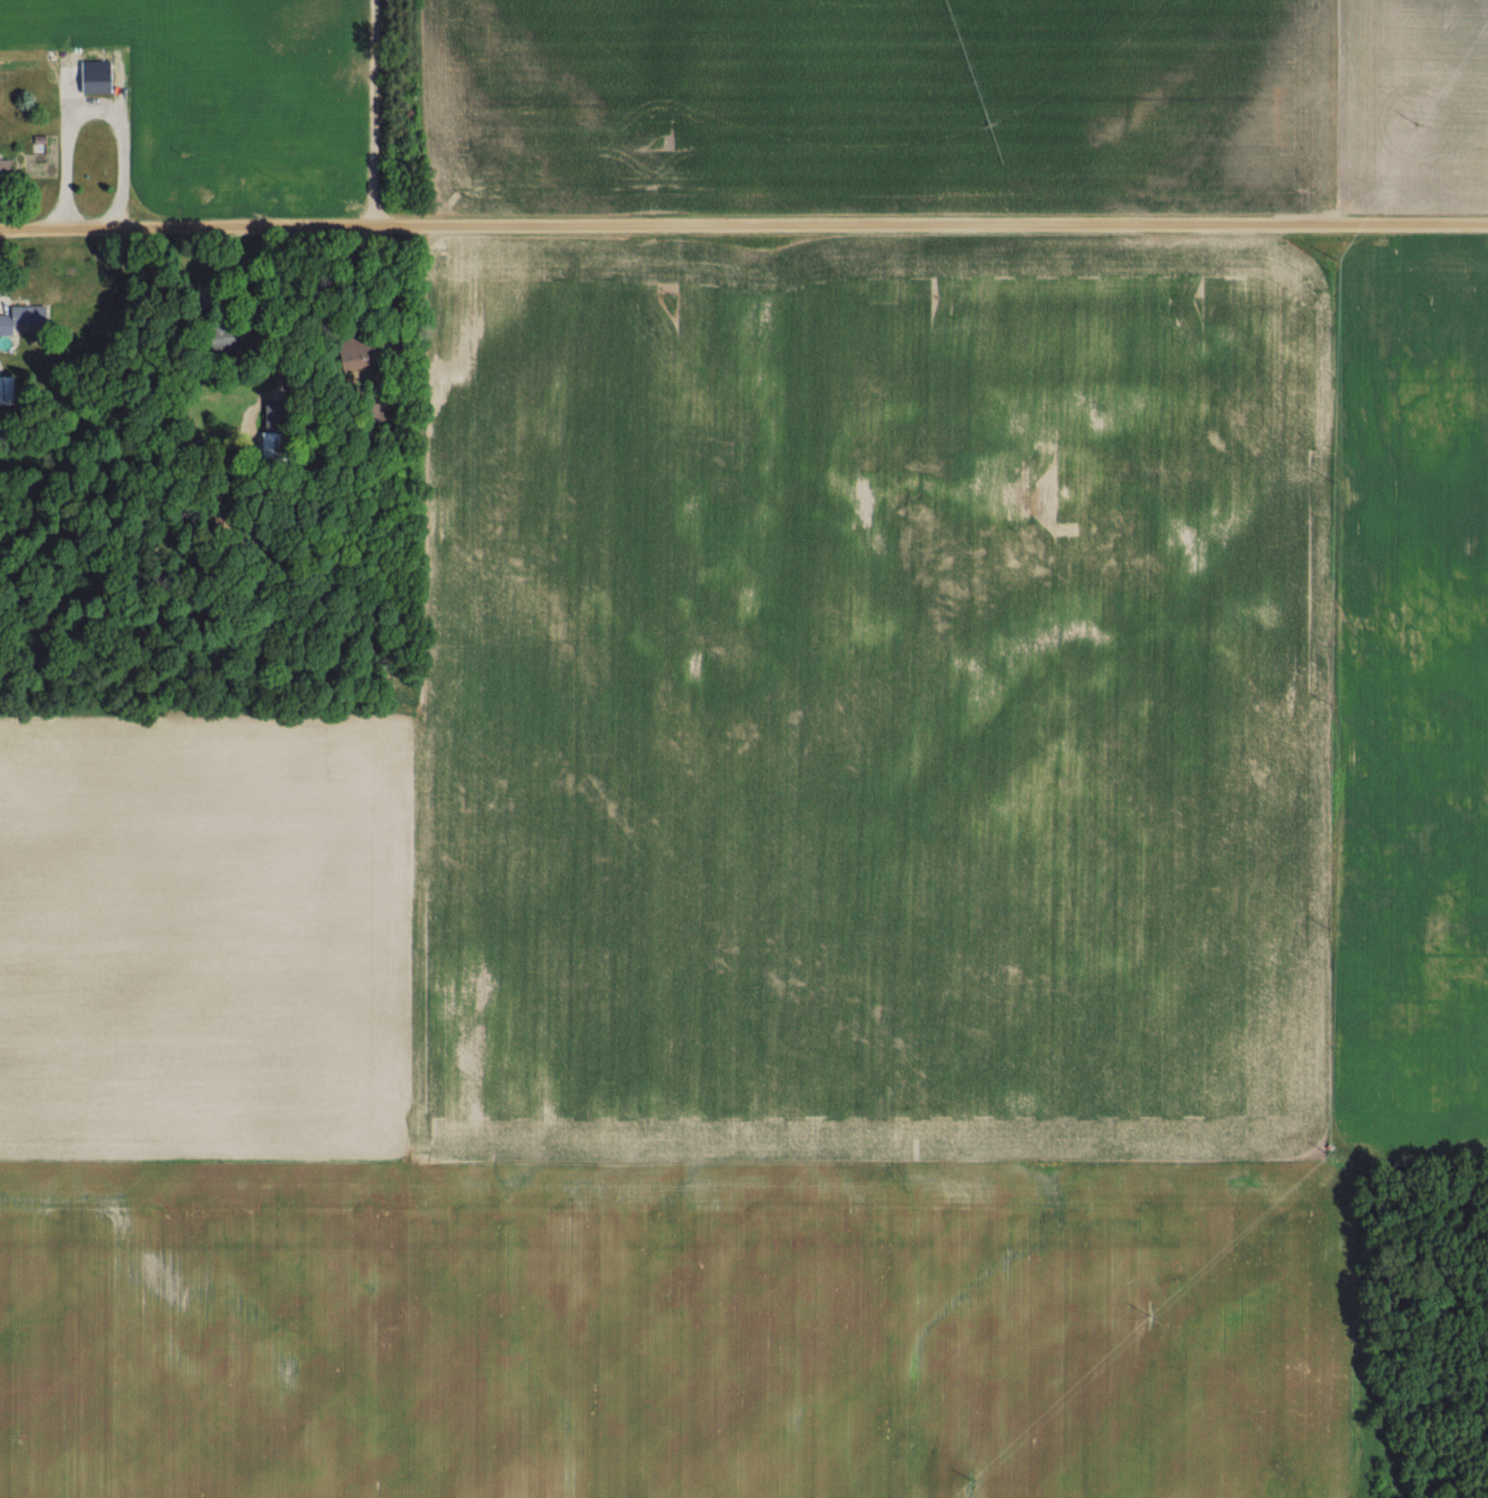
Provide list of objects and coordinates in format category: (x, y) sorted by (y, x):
road: (94, 58)
building: (92, 81)
building: (2, 169)
road: (743, 223)
building: (20, 320)
building: (215, 339)
building: (348, 349)
road: (744, 400)

